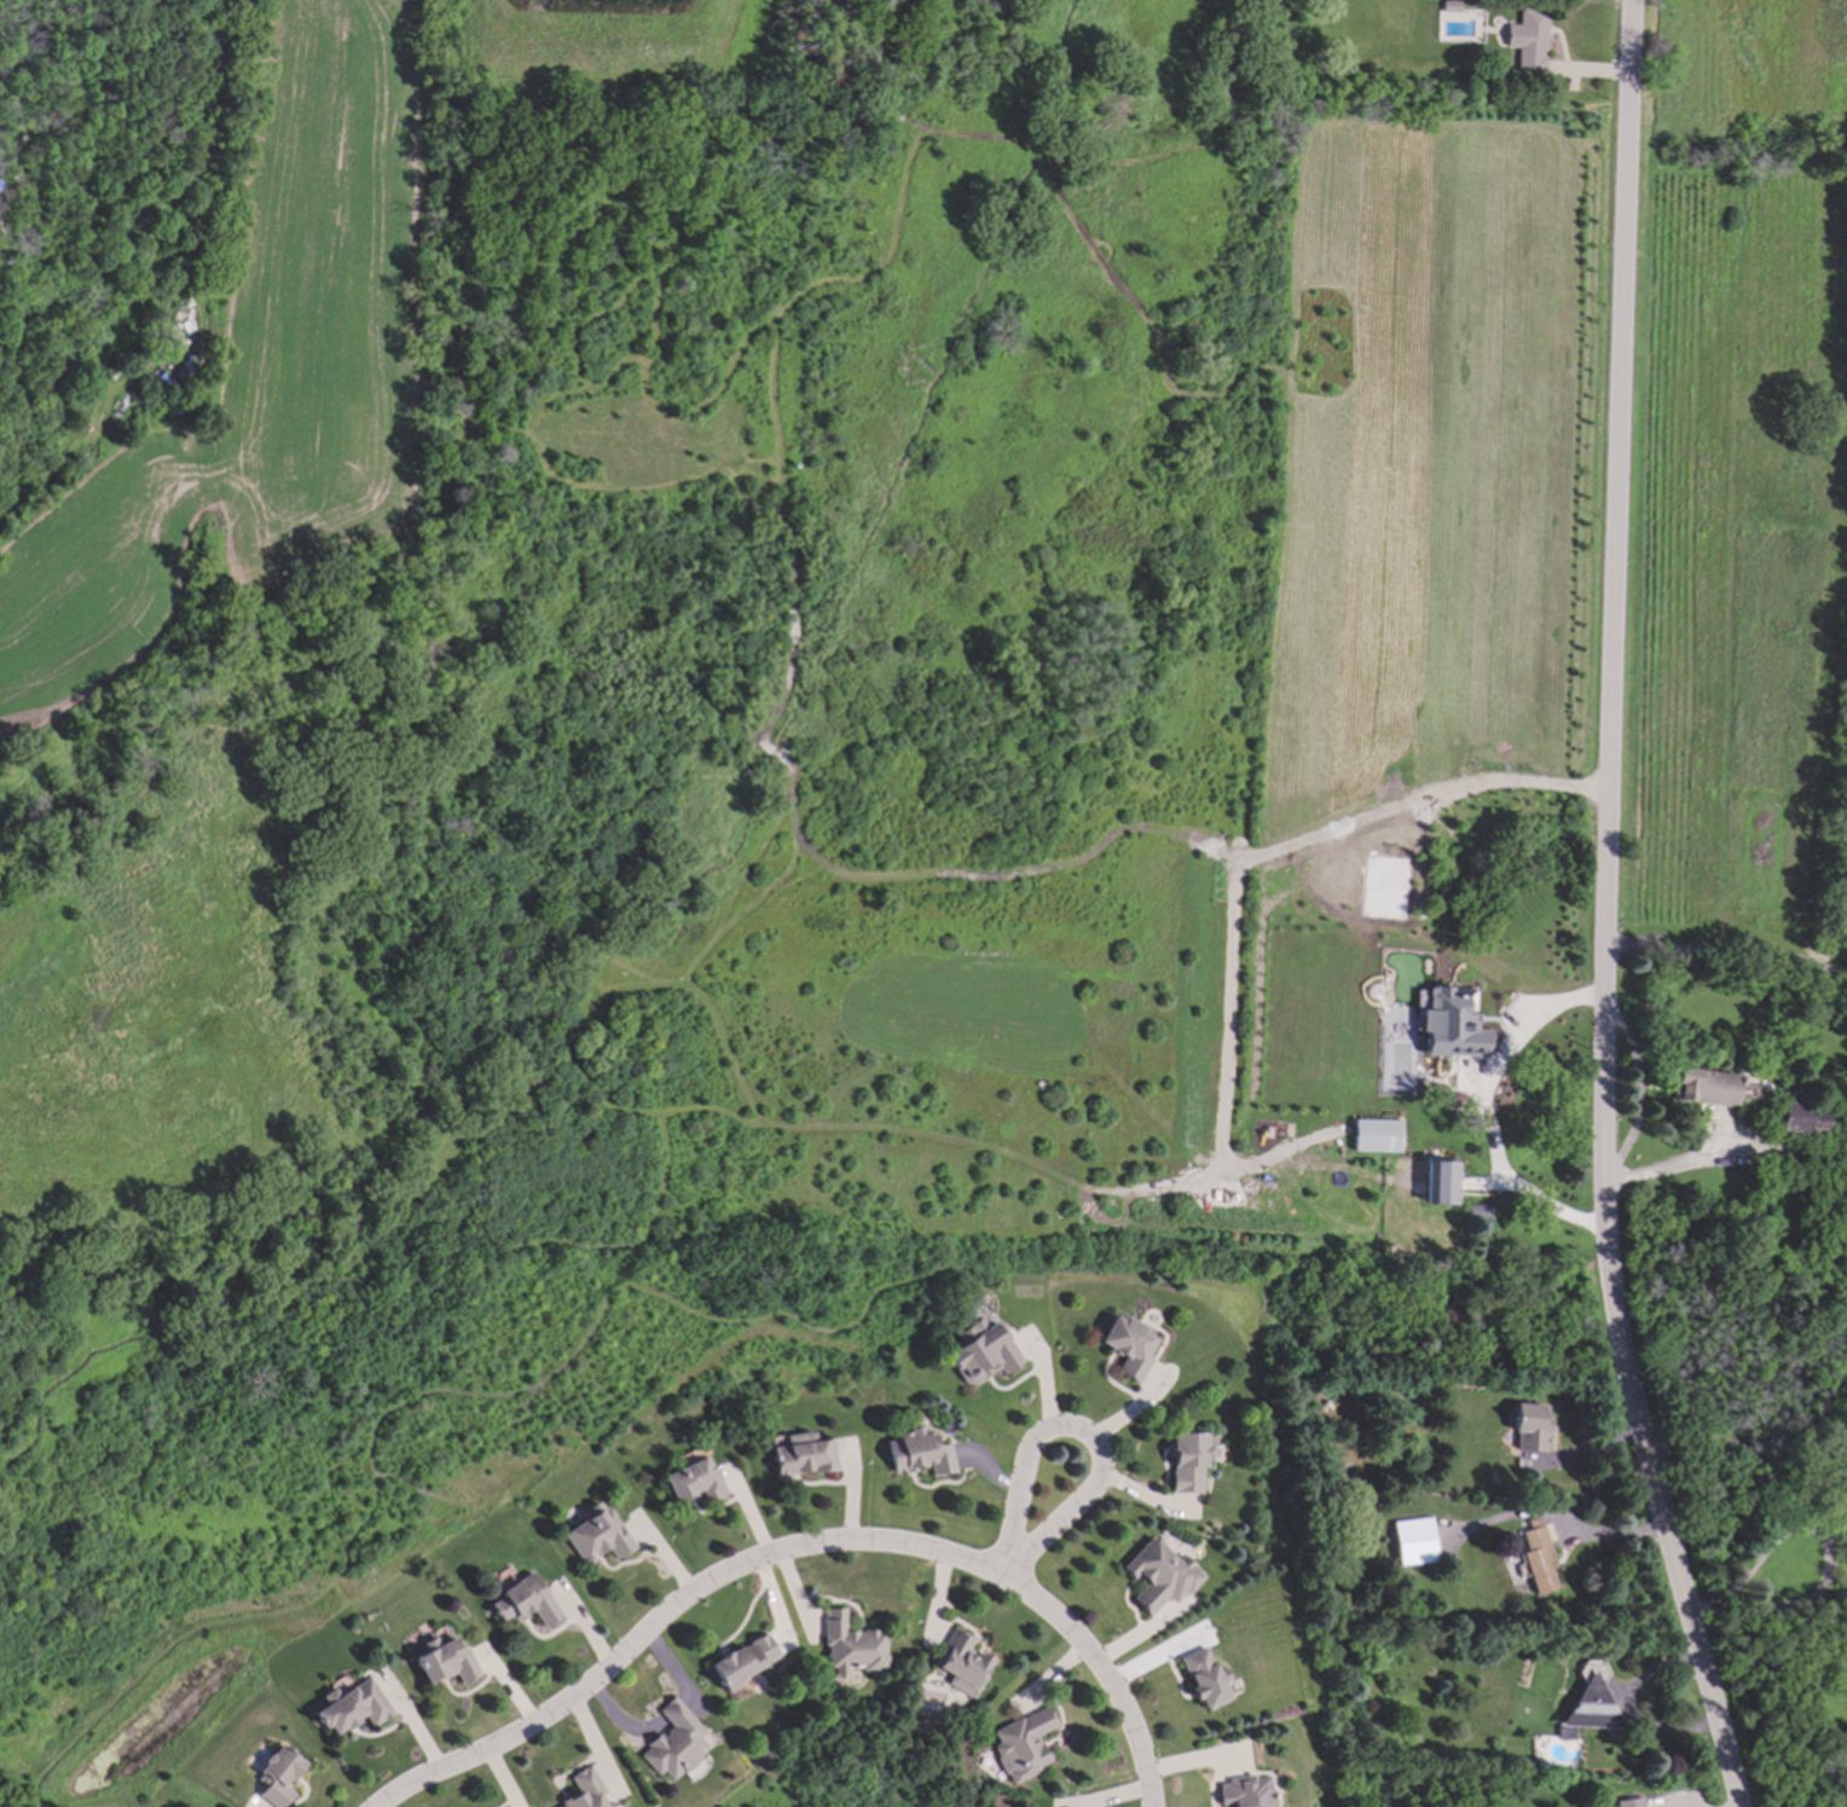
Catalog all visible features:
building: (1528, 41)
crop: (259, 376)
road: (1606, 911)
road: (1730, 945)
road: (1826, 971)
building: (1451, 1024)
building: (1704, 1087)
road: (1638, 1094)
building: (1801, 1120)
building: (1377, 1136)
road: (1506, 1166)
road: (1673, 1170)
building: (1440, 1183)
building: (1478, 1212)
building: (1129, 1346)
building: (982, 1354)
building: (1529, 1429)
road: (1083, 1432)
road: (1747, 1441)
building: (919, 1454)
building: (803, 1456)
building: (1188, 1463)
building: (694, 1482)
road: (1819, 1531)
building: (597, 1535)
building: (1414, 1542)
road: (798, 1550)
building: (1538, 1558)
building: (1160, 1576)
building: (526, 1603)
building: (851, 1647)
building: (445, 1662)
building: (745, 1662)
building: (961, 1664)
road: (671, 1668)
road: (1776, 1669)
building: (1205, 1679)
building: (352, 1708)
road: (1629, 1710)
road: (674, 1713)
road: (621, 1724)
building: (676, 1743)
building: (1023, 1745)
building: (277, 1777)
building: (586, 1790)
building: (1245, 1792)
building: (1629, 1802)

